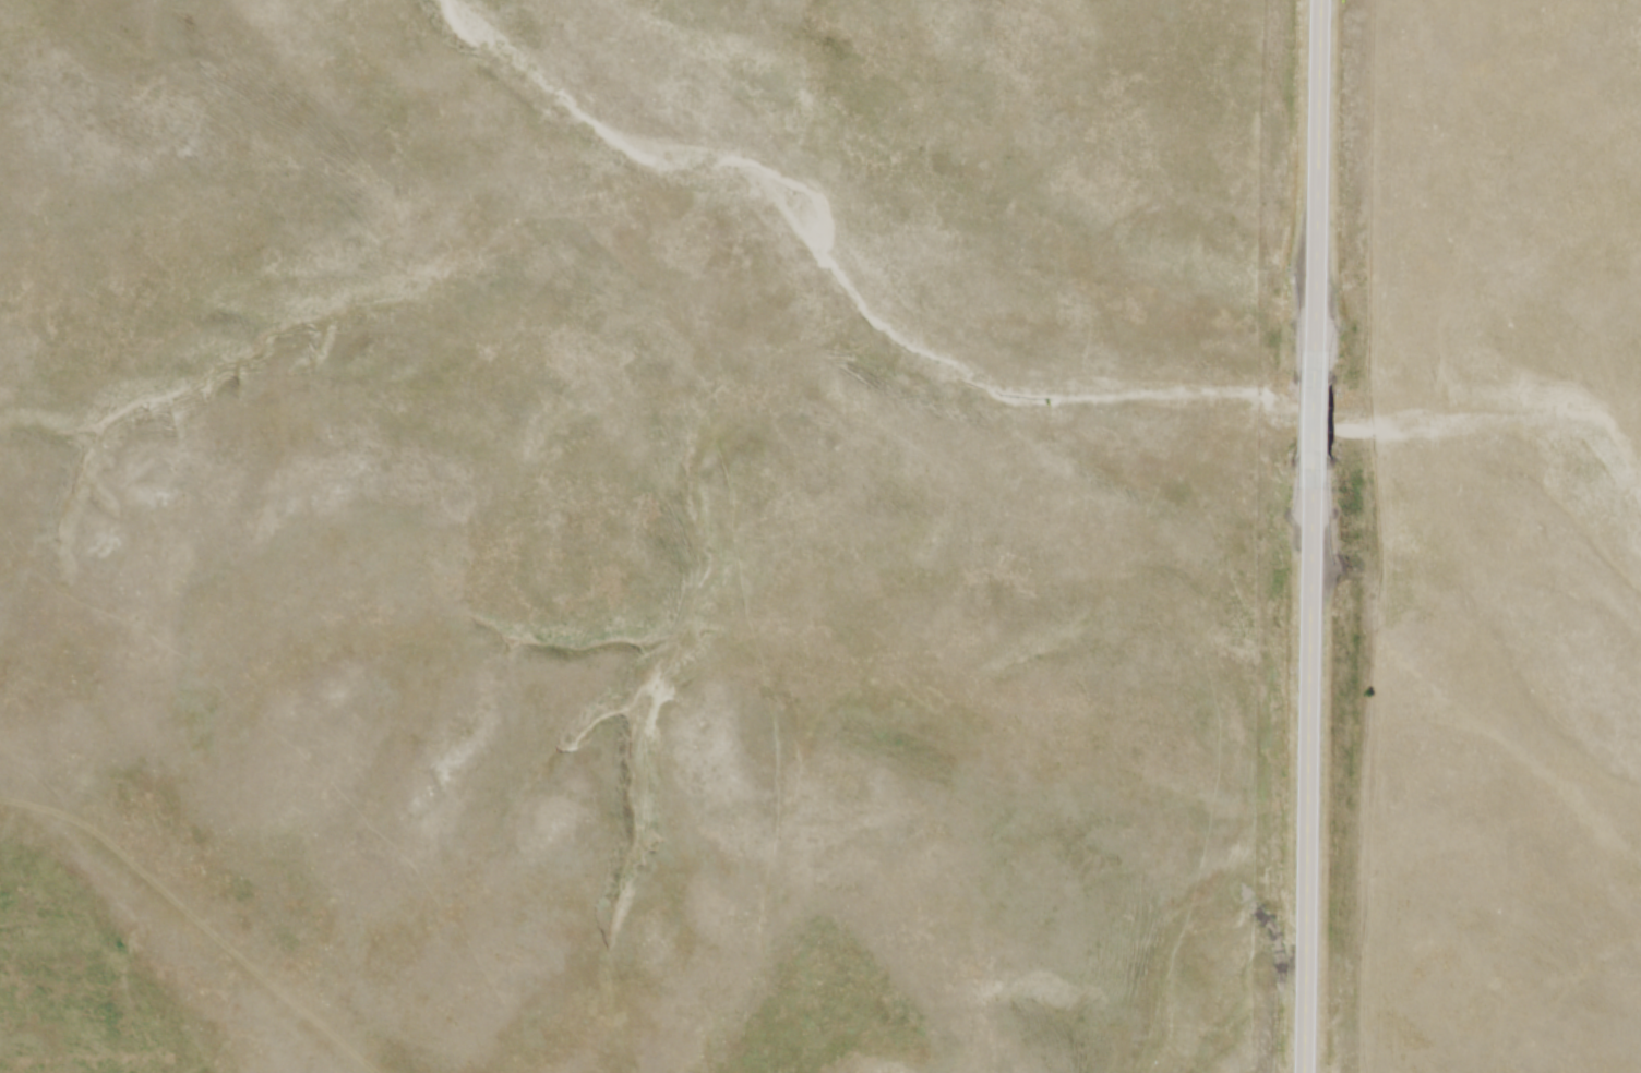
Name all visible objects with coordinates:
road: (1309, 536)

